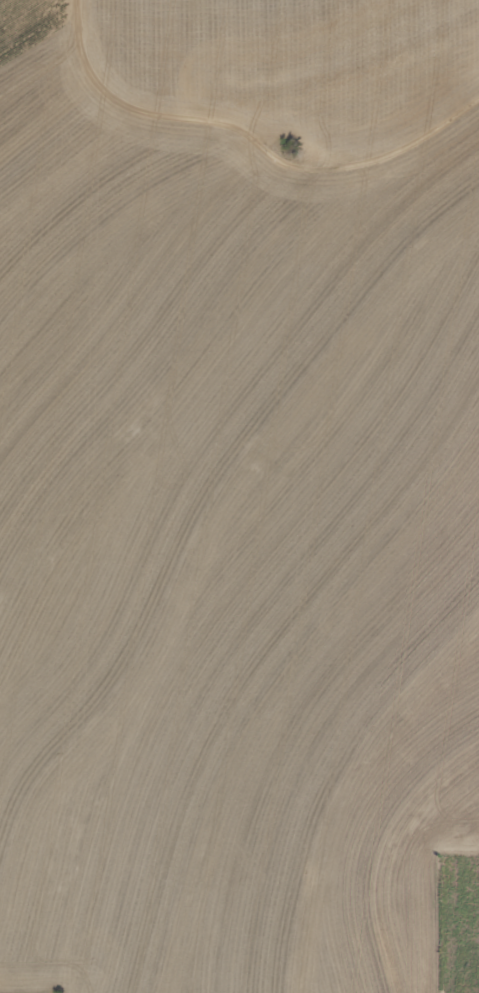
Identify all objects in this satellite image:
road: (254, 121)

